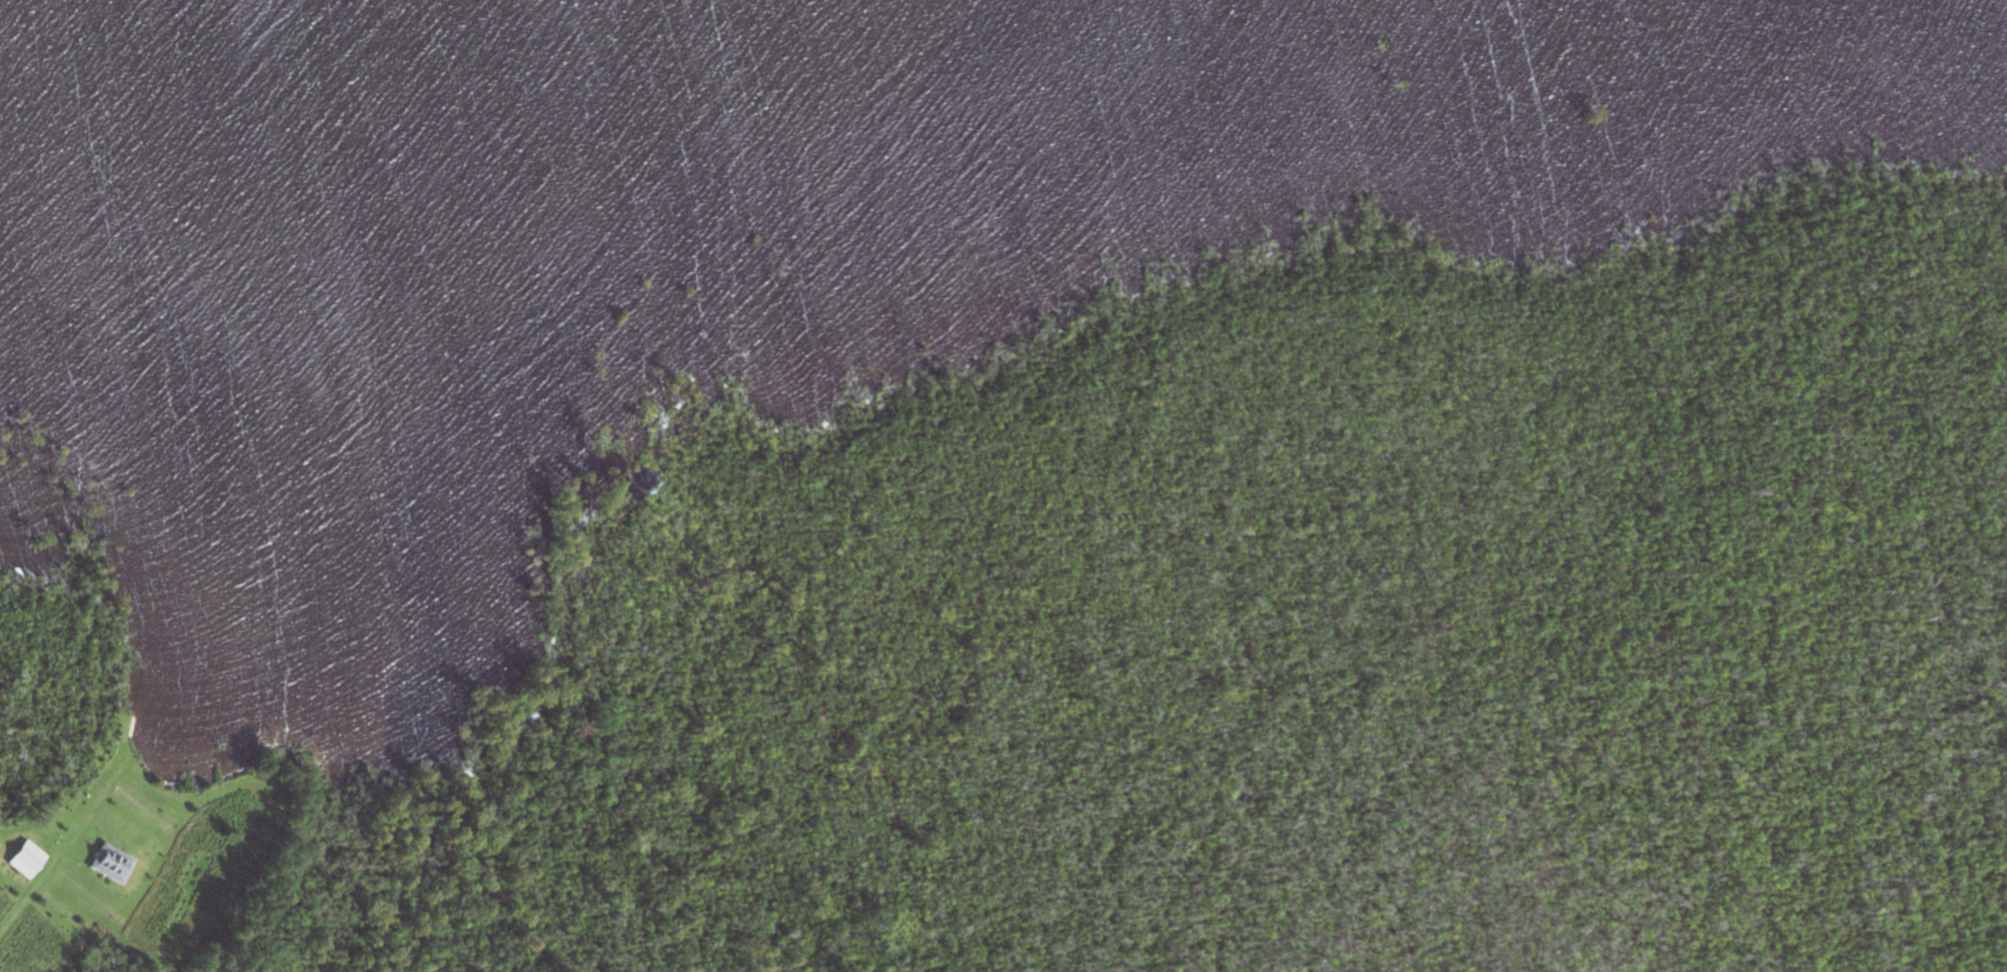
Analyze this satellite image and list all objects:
park: (1271, 610)
building: (109, 864)

